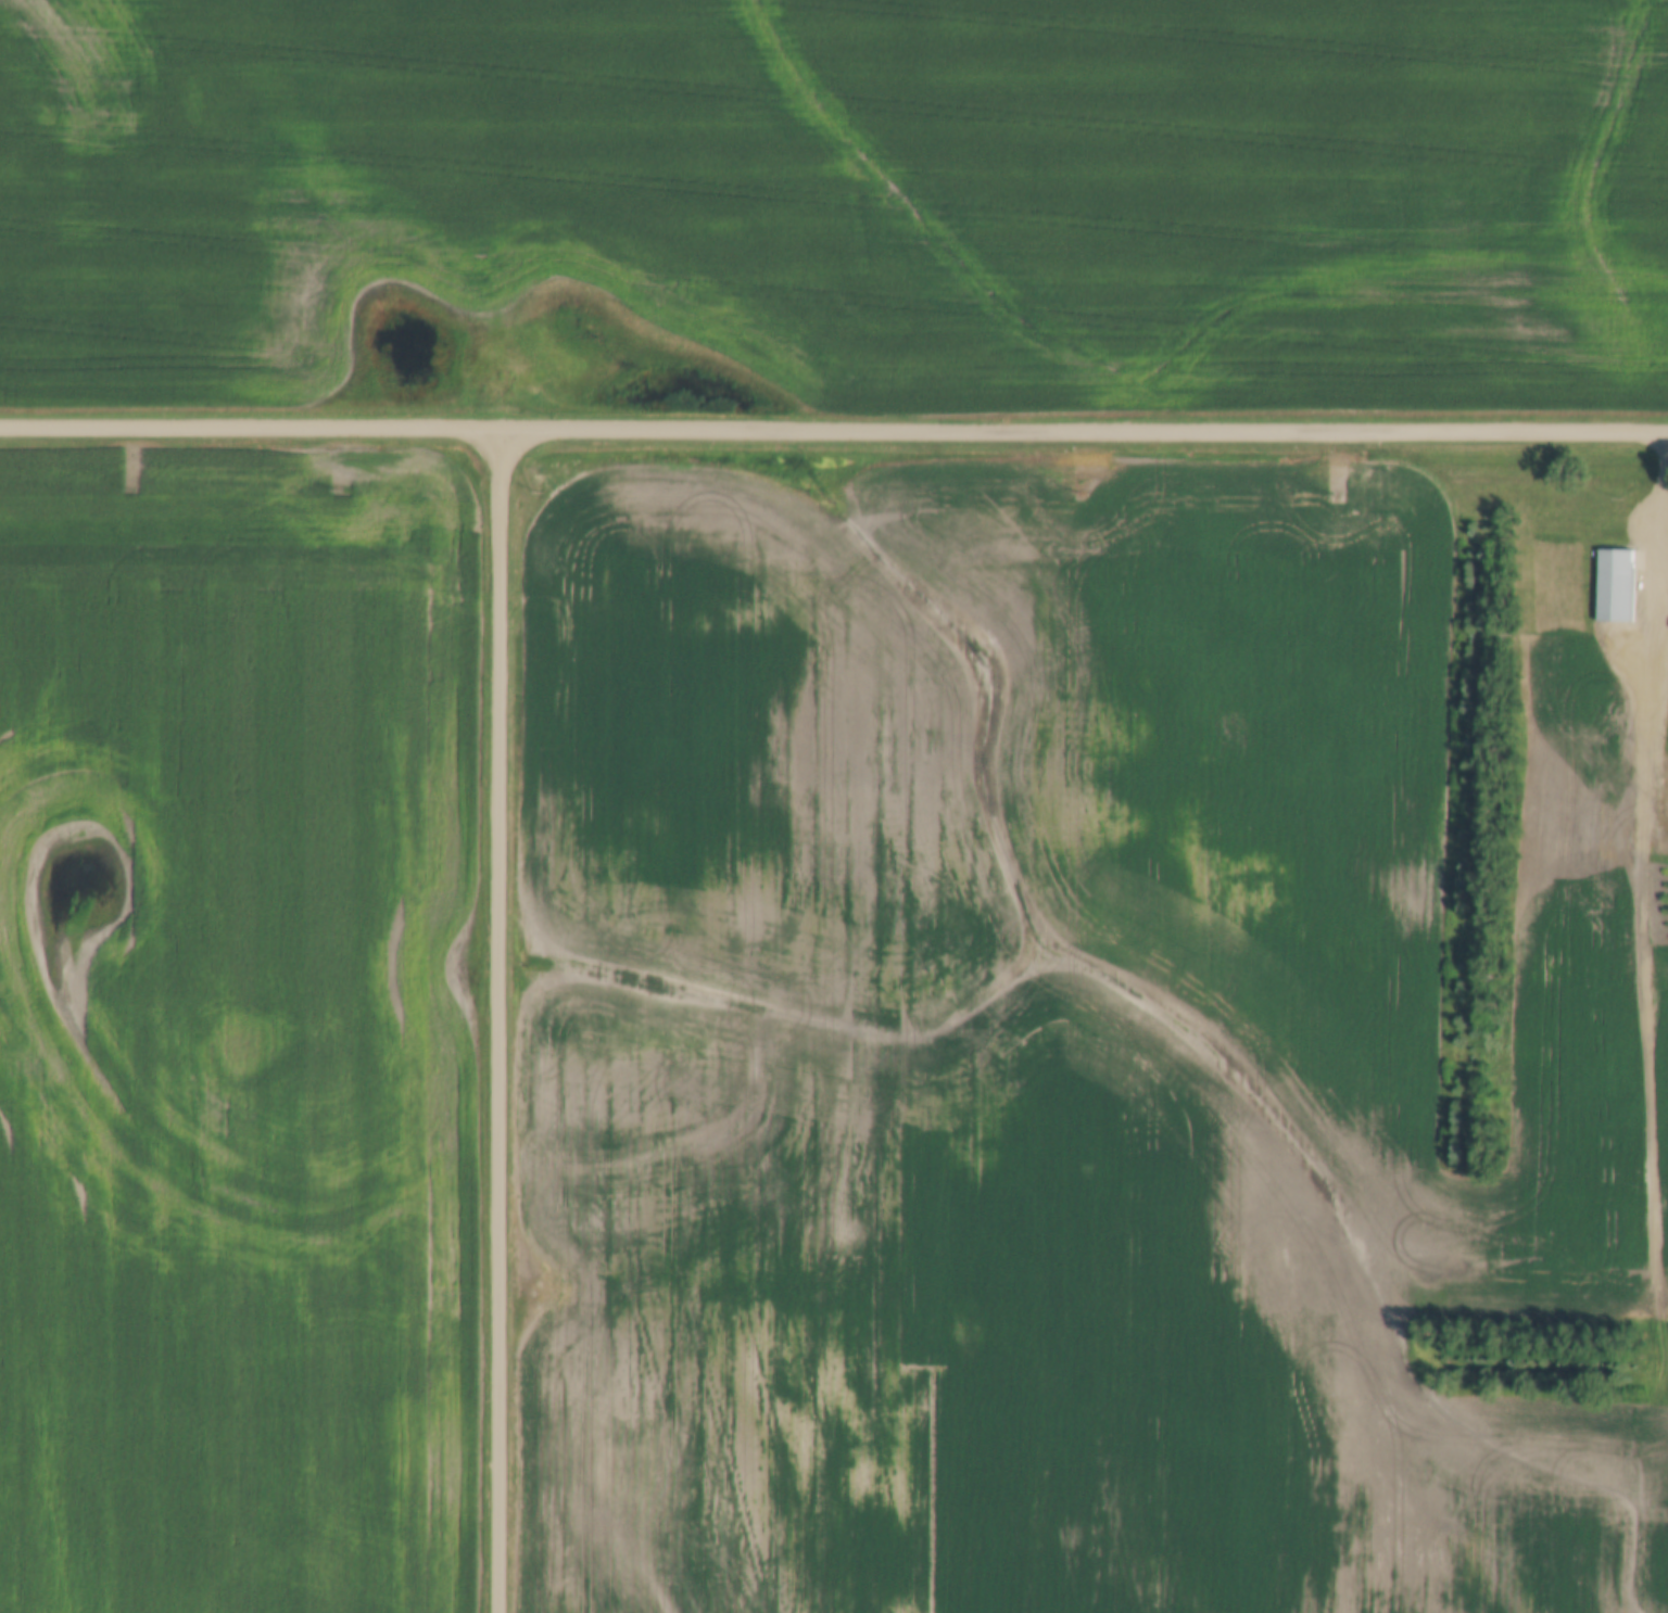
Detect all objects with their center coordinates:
road: (833, 431)
road: (1666, 513)
building: (1617, 584)
road: (1660, 687)
road: (502, 1021)
road: (1643, 1054)

